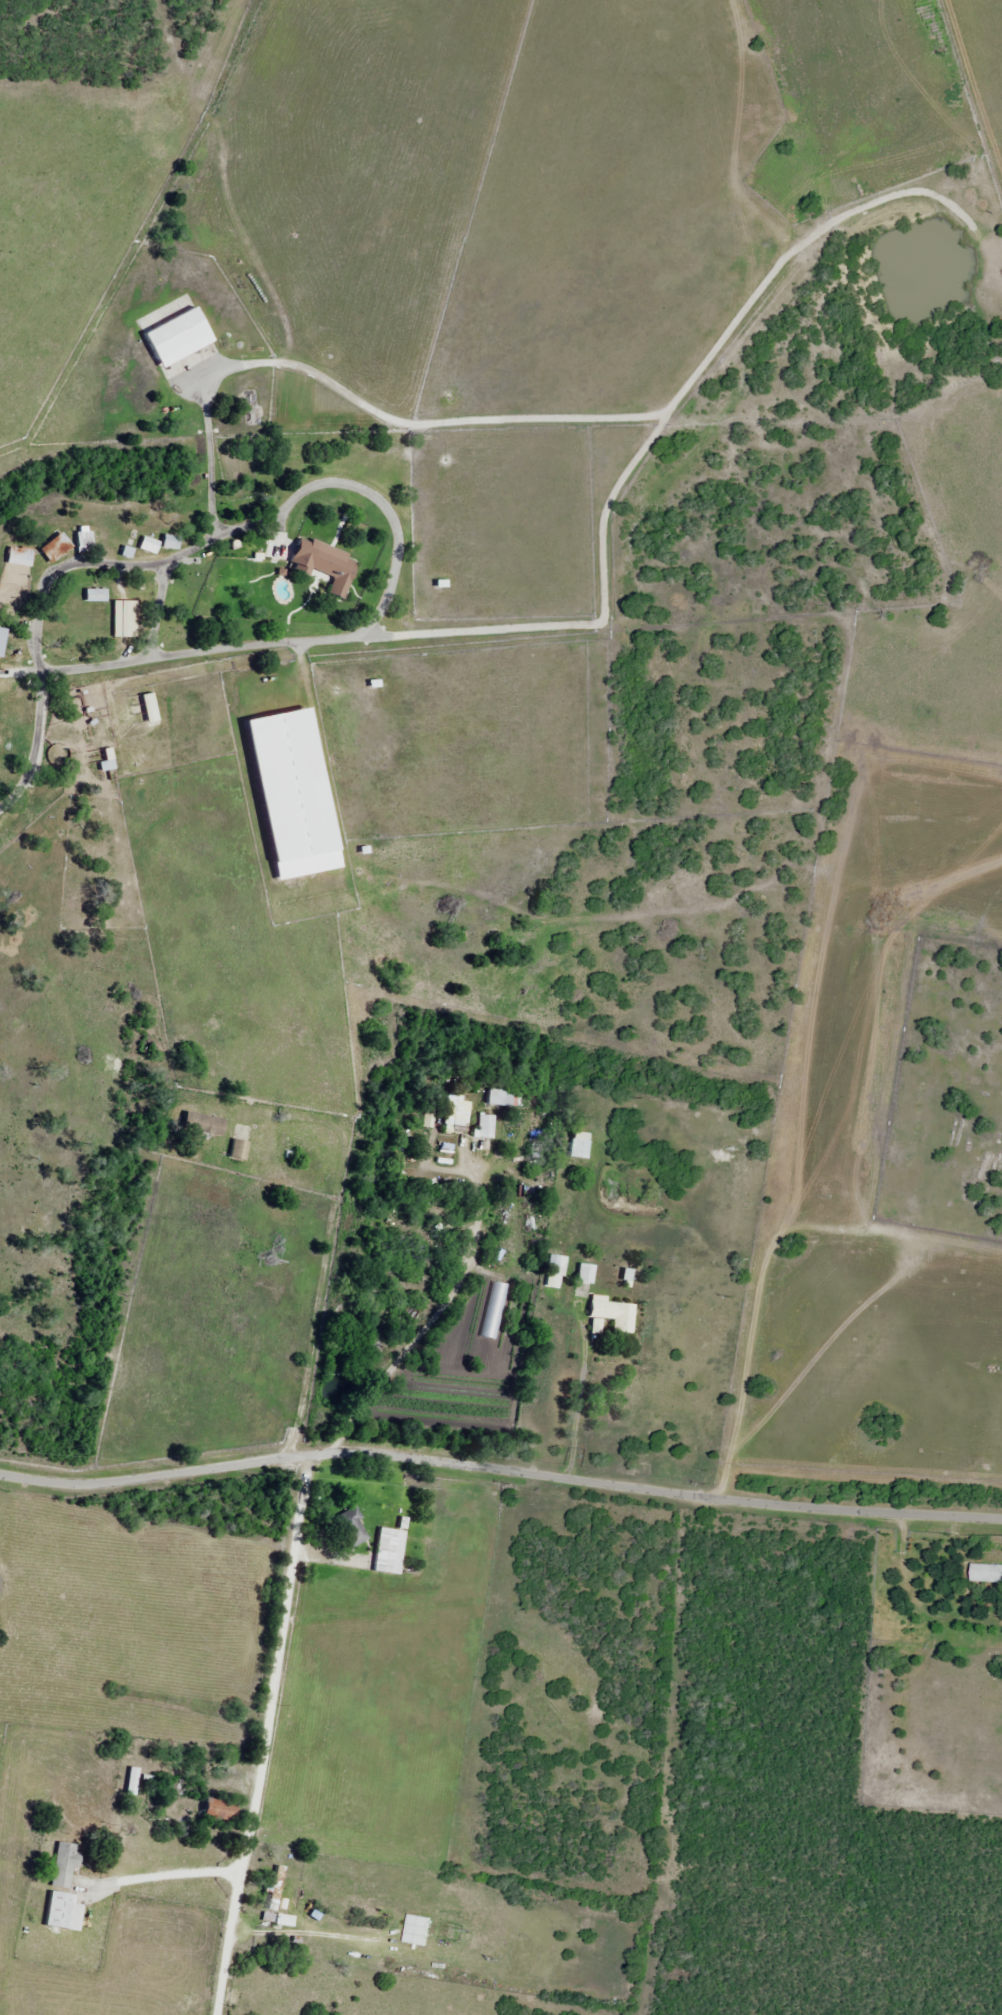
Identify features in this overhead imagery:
building: (153, 545)
building: (3, 641)
road: (59, 667)
building: (112, 765)
park: (946, 1095)
building: (488, 1126)
building: (583, 1148)
building: (587, 1273)
road: (79, 1283)
road: (748, 1295)
building: (615, 1317)
road: (500, 1473)
building: (394, 1551)
building: (983, 1573)
road: (265, 1737)

